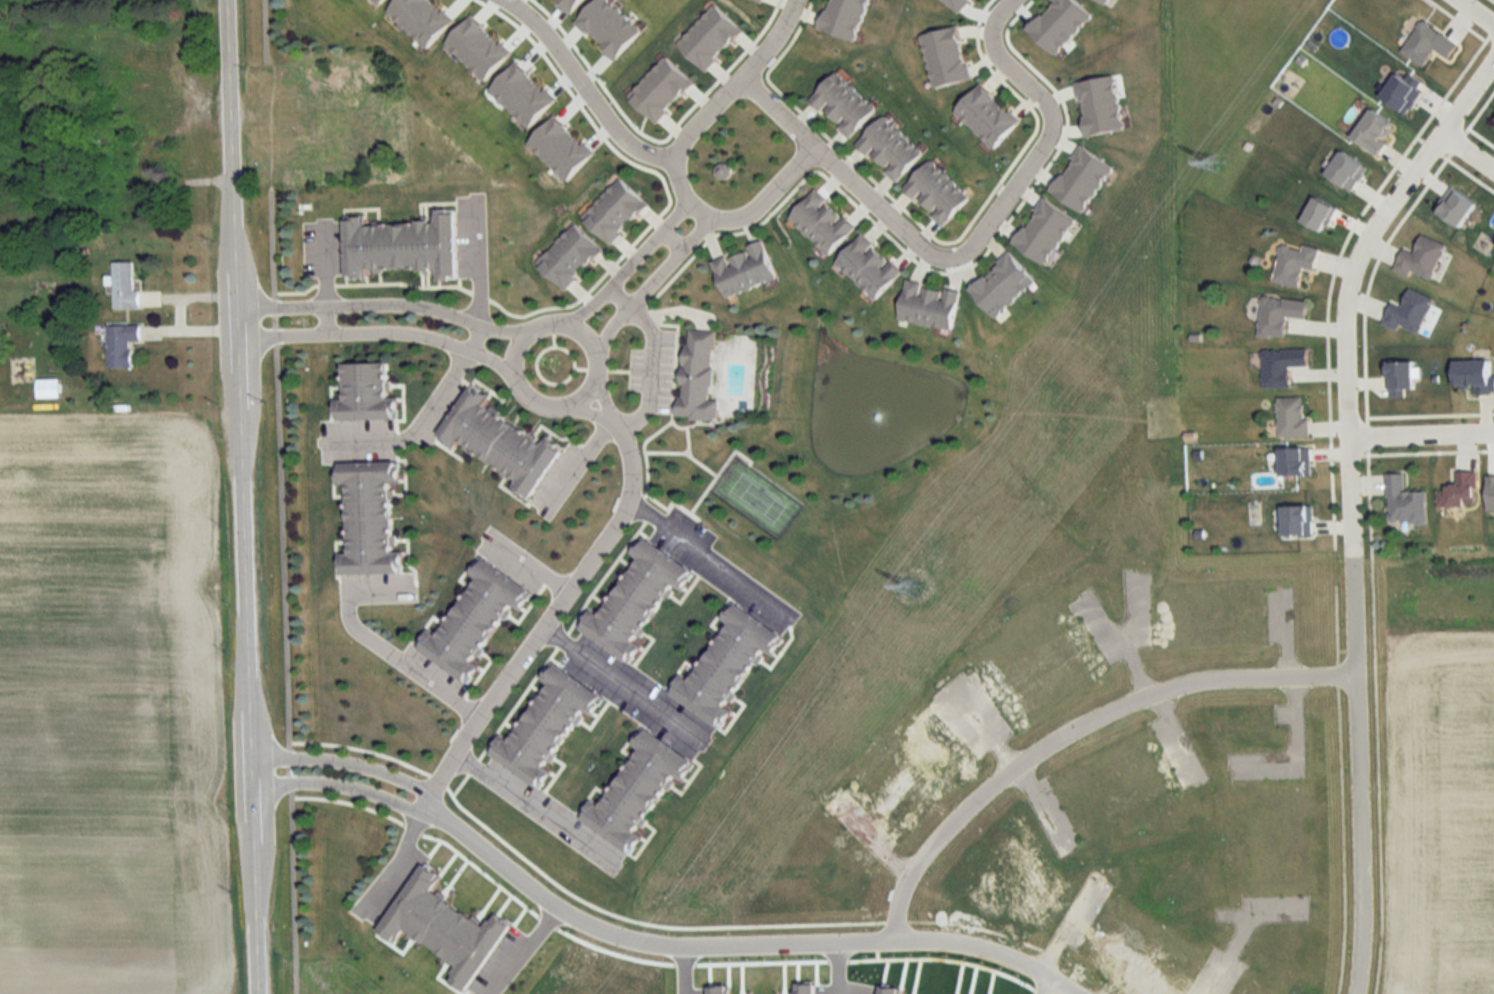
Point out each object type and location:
road: (1475, 13)
building: (1428, 44)
road: (582, 88)
building: (134, 100)
building: (841, 104)
building: (155, 105)
building: (986, 116)
building: (116, 132)
road: (1044, 137)
building: (887, 149)
road: (1467, 150)
road: (674, 160)
power tower: (1218, 164)
road: (837, 171)
building: (103, 183)
building: (935, 193)
building: (124, 209)
building: (613, 211)
building: (820, 222)
road: (667, 241)
building: (401, 246)
building: (567, 256)
building: (1421, 259)
road: (627, 262)
road: (475, 263)
building: (1295, 264)
building: (867, 266)
building: (743, 269)
road: (649, 282)
building: (1000, 285)
building: (124, 287)
road: (381, 303)
building: (927, 305)
building: (1409, 312)
building: (1279, 315)
road: (324, 320)
road: (376, 333)
building: (120, 345)
road: (649, 357)
building: (1281, 366)
building: (697, 376)
building: (1401, 379)
road: (519, 386)
building: (47, 388)
building: (365, 393)
road: (599, 399)
road: (586, 411)
road: (426, 418)
building: (1292, 418)
road: (1422, 433)
building: (498, 442)
building: (1297, 462)
building: (1461, 492)
road: (241, 497)
park: (755, 498)
road: (1351, 500)
building: (1405, 502)
building: (368, 517)
building: (1297, 521)
road: (710, 559)
road: (526, 568)
power tower: (909, 588)
building: (635, 600)
road: (555, 613)
building: (473, 620)
road: (395, 659)
building: (726, 665)
road: (623, 685)
crop: (109, 708)
building: (546, 725)
road: (1077, 731)
road: (342, 762)
road: (340, 788)
building: (635, 793)
road: (534, 807)
crop: (1440, 814)
road: (737, 935)
road: (833, 964)
road: (680, 965)
road: (407, 966)
road: (1046, 985)

